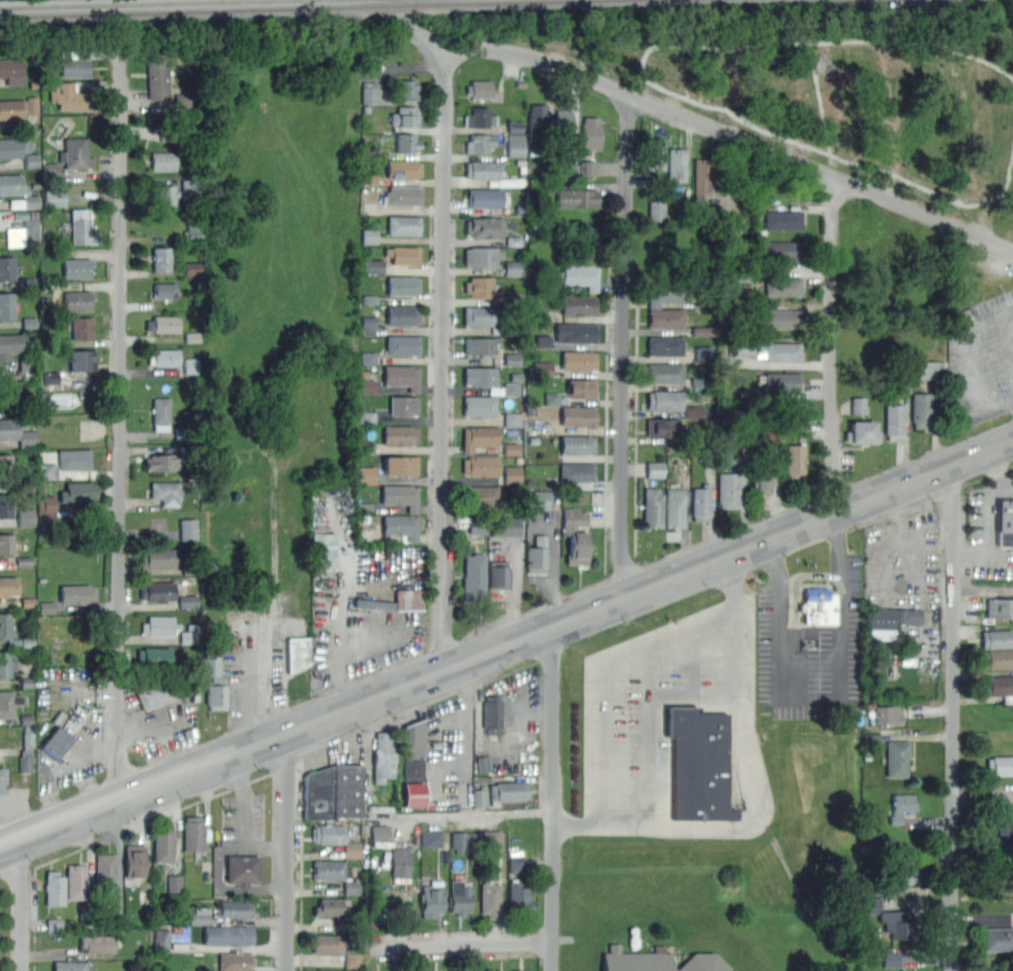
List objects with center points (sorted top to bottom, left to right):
railway: (474, 2)
railway: (112, 3)
railway: (387, 4)
railway: (185, 10)
road: (917, 39)
road: (682, 43)
building: (75, 64)
building: (12, 70)
building: (158, 78)
road: (605, 82)
park: (854, 87)
building: (479, 88)
building: (408, 89)
building: (374, 92)
building: (70, 96)
building: (184, 101)
building: (13, 108)
building: (405, 116)
building: (479, 117)
building: (538, 117)
building: (563, 125)
building: (590, 132)
building: (406, 142)
building: (479, 142)
building: (516, 145)
building: (13, 146)
building: (655, 153)
building: (77, 154)
building: (163, 160)
building: (676, 164)
building: (588, 166)
building: (402, 168)
building: (480, 169)
building: (568, 170)
building: (702, 176)
building: (12, 184)
building: (188, 189)
road: (937, 192)
building: (162, 194)
building: (402, 195)
building: (55, 197)
building: (484, 198)
building: (578, 198)
building: (32, 201)
building: (657, 209)
road: (922, 212)
building: (783, 219)
building: (403, 224)
building: (484, 226)
building: (81, 227)
building: (30, 233)
building: (193, 233)
building: (370, 236)
building: (781, 250)
building: (403, 254)
building: (482, 256)
building: (161, 258)
building: (374, 266)
building: (77, 267)
building: (6, 268)
building: (192, 268)
building: (514, 268)
building: (577, 275)
building: (402, 284)
building: (479, 286)
building: (783, 286)
building: (165, 289)
building: (663, 292)
building: (78, 300)
building: (578, 303)
building: (6, 305)
road: (1005, 311)
building: (402, 315)
building: (480, 315)
building: (665, 318)
building: (783, 318)
building: (162, 324)
building: (371, 325)
building: (82, 327)
building: (704, 328)
building: (576, 332)
road: (1005, 333)
road: (625, 344)
building: (12, 345)
building: (403, 345)
building: (479, 345)
building: (664, 345)
road: (833, 345)
building: (744, 347)
building: (782, 351)
building: (705, 352)
building: (165, 357)
building: (369, 358)
road: (444, 358)
parking lot: (983, 358)
building: (81, 360)
building: (578, 360)
building: (191, 366)
building: (932, 368)
building: (544, 369)
road: (971, 369)
building: (664, 372)
building: (479, 375)
building: (401, 376)
building: (52, 377)
building: (697, 381)
building: (783, 381)
building: (368, 386)
building: (510, 388)
building: (581, 388)
road: (998, 398)
building: (552, 399)
building: (664, 399)
building: (859, 403)
building: (403, 404)
building: (479, 405)
building: (921, 409)
building: (161, 412)
building: (578, 415)
building: (512, 419)
building: (894, 420)
road: (119, 425)
building: (660, 427)
building: (8, 428)
building: (861, 431)
building: (399, 434)
building: (479, 437)
building: (577, 443)
building: (172, 458)
building: (74, 459)
building: (795, 461)
building: (400, 464)
building: (480, 465)
building: (5, 466)
building: (656, 468)
building: (576, 471)
building: (369, 474)
building: (513, 474)
building: (760, 477)
building: (727, 489)
building: (78, 492)
building: (166, 492)
road: (1008, 492)
building: (401, 495)
building: (479, 495)
building: (539, 500)
building: (701, 502)
building: (5, 505)
building: (652, 507)
building: (673, 507)
road: (990, 508)
building: (27, 517)
building: (1007, 522)
building: (400, 525)
building: (189, 529)
parking lot: (990, 530)
building: (575, 535)
building: (6, 543)
road: (915, 546)
building: (324, 549)
building: (536, 556)
building: (155, 559)
road: (971, 559)
road: (557, 563)
building: (498, 573)
building: (474, 577)
road: (517, 577)
road: (335, 578)
parking lot: (903, 582)
road: (880, 583)
building: (9, 586)
road: (982, 587)
building: (157, 591)
building: (78, 595)
building: (408, 600)
building: (189, 601)
building: (374, 603)
building: (819, 606)
building: (999, 607)
parking lot: (367, 611)
building: (891, 620)
building: (5, 626)
building: (159, 626)
building: (189, 634)
building: (996, 638)
parking lot: (810, 641)
road: (506, 644)
road: (928, 647)
building: (298, 652)
building: (153, 656)
road: (350, 657)
building: (998, 658)
parking lot: (284, 659)
building: (6, 664)
road: (278, 668)
parking lot: (244, 670)
road: (608, 673)
road: (246, 685)
building: (998, 685)
building: (214, 687)
building: (153, 694)
road: (824, 697)
building: (8, 703)
parking lot: (524, 705)
building: (492, 714)
building: (886, 714)
road: (522, 716)
road: (952, 717)
road: (154, 725)
parking lot: (160, 725)
parking lot: (675, 728)
road: (645, 732)
building: (873, 737)
road: (466, 739)
building: (55, 744)
building: (413, 752)
parking lot: (444, 754)
road: (79, 756)
parking lot: (75, 757)
building: (383, 757)
building: (896, 757)
building: (25, 762)
building: (484, 763)
building: (698, 763)
building: (999, 765)
building: (1, 780)
road: (758, 787)
building: (509, 790)
building: (332, 792)
building: (416, 794)
road: (983, 796)
building: (480, 798)
road: (553, 798)
road: (245, 799)
building: (900, 806)
road: (461, 816)
parking lot: (244, 817)
building: (1012, 818)
building: (1005, 831)
building: (380, 832)
building: (192, 833)
building: (328, 833)
building: (432, 838)
building: (475, 840)
building: (162, 844)
road: (289, 851)
building: (134, 860)
building: (400, 862)
building: (903, 863)
building: (517, 865)
road: (219, 869)
building: (242, 869)
building: (330, 869)
building: (105, 873)
building: (76, 881)
building: (175, 883)
building: (352, 887)
building: (54, 888)
building: (460, 897)
building: (518, 897)
building: (431, 898)
building: (490, 899)
road: (21, 905)
building: (331, 907)
building: (232, 910)
building: (199, 915)
building: (900, 923)
building: (228, 935)
building: (997, 937)
building: (161, 940)
building: (97, 943)
road: (461, 943)
building: (330, 944)
building: (891, 957)
building: (354, 960)
building: (657, 961)
building: (235, 962)
building: (69, 966)
building: (318, 970)
building: (521, 970)

